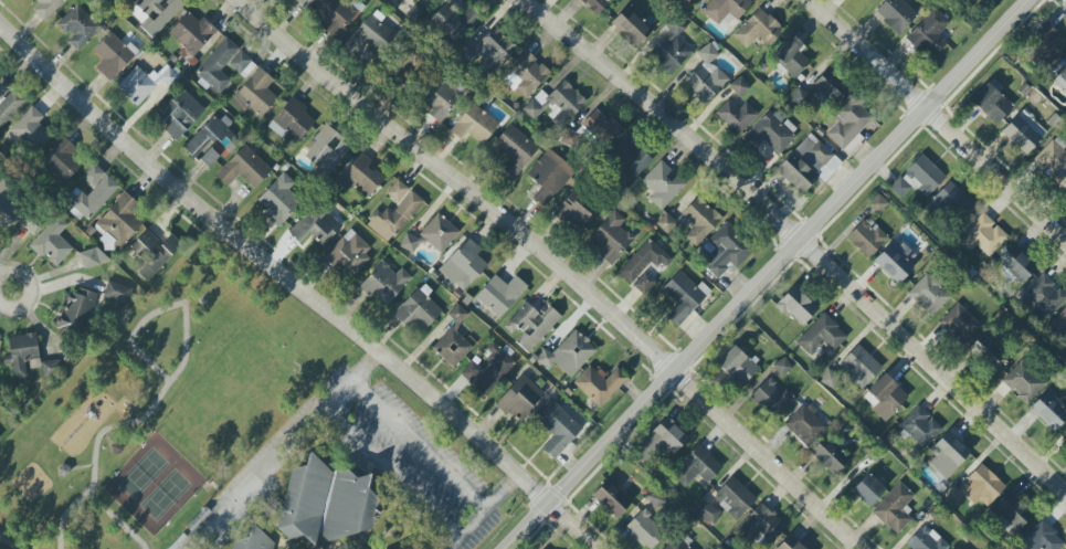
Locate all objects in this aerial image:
building: (124, 0)
building: (698, 0)
building: (870, 0)
building: (988, 1)
building: (303, 3)
building: (594, 4)
building: (46, 8)
building: (725, 9)
building: (155, 13)
building: (337, 13)
building: (896, 14)
building: (453, 22)
building: (77, 27)
building: (631, 27)
building: (758, 29)
building: (928, 33)
building: (368, 35)
building: (1047, 41)
building: (208, 45)
building: (669, 50)
building: (113, 55)
building: (791, 55)
building: (242, 64)
building: (218, 65)
building: (1059, 73)
building: (525, 74)
building: (706, 75)
building: (146, 82)
building: (739, 86)
building: (830, 87)
building: (254, 94)
building: (439, 98)
building: (8, 102)
building: (556, 104)
building: (992, 104)
building: (180, 114)
road: (940, 115)
building: (736, 116)
building: (292, 122)
building: (847, 124)
building: (474, 125)
building: (601, 127)
building: (30, 131)
building: (1024, 131)
building: (770, 133)
building: (211, 140)
building: (326, 149)
building: (515, 150)
building: (629, 157)
building: (61, 161)
building: (1052, 161)
building: (808, 165)
building: (244, 168)
building: (360, 177)
building: (548, 177)
building: (919, 178)
building: (662, 184)
building: (1064, 191)
building: (92, 193)
building: (279, 202)
building: (950, 202)
building: (878, 204)
building: (574, 210)
building: (394, 212)
building: (15, 213)
building: (699, 220)
building: (120, 222)
building: (315, 229)
building: (439, 233)
building: (983, 235)
building: (611, 237)
building: (867, 237)
road: (800, 239)
building: (52, 242)
building: (409, 243)
building: (725, 251)
building: (349, 252)
building: (152, 253)
building: (92, 257)
building: (644, 261)
building: (895, 261)
building: (463, 265)
building: (1016, 265)
road: (557, 266)
road: (767, 275)
building: (384, 283)
building: (644, 284)
road: (297, 287)
road: (34, 291)
building: (117, 293)
building: (500, 294)
building: (929, 295)
building: (1043, 296)
building: (684, 297)
building: (796, 306)
building: (78, 309)
road: (162, 310)
building: (416, 310)
building: (960, 325)
building: (1058, 325)
building: (530, 326)
building: (821, 336)
building: (452, 348)
building: (21, 352)
building: (989, 352)
building: (568, 355)
building: (737, 366)
building: (782, 367)
building: (858, 367)
building: (50, 368)
building: (494, 368)
building: (471, 372)
building: (1023, 382)
building: (599, 384)
building: (885, 397)
building: (772, 398)
building: (519, 399)
building: (1049, 410)
park: (162, 411)
road: (114, 426)
building: (920, 426)
building: (559, 430)
building: (0, 436)
building: (1064, 436)
building: (664, 437)
road: (363, 447)
road: (421, 447)
building: (947, 454)
building: (828, 456)
building: (696, 466)
road: (82, 467)
road: (260, 481)
building: (977, 488)
building: (867, 489)
building: (611, 497)
building: (733, 498)
building: (325, 503)
building: (894, 508)
building: (707, 511)
road: (482, 513)
building: (1011, 513)
road: (65, 516)
road: (117, 520)
building: (760, 525)
building: (644, 530)
building: (1041, 538)
building: (253, 540)
building: (926, 540)
building: (678, 543)
building: (790, 543)
road: (1, 547)
building: (954, 548)

